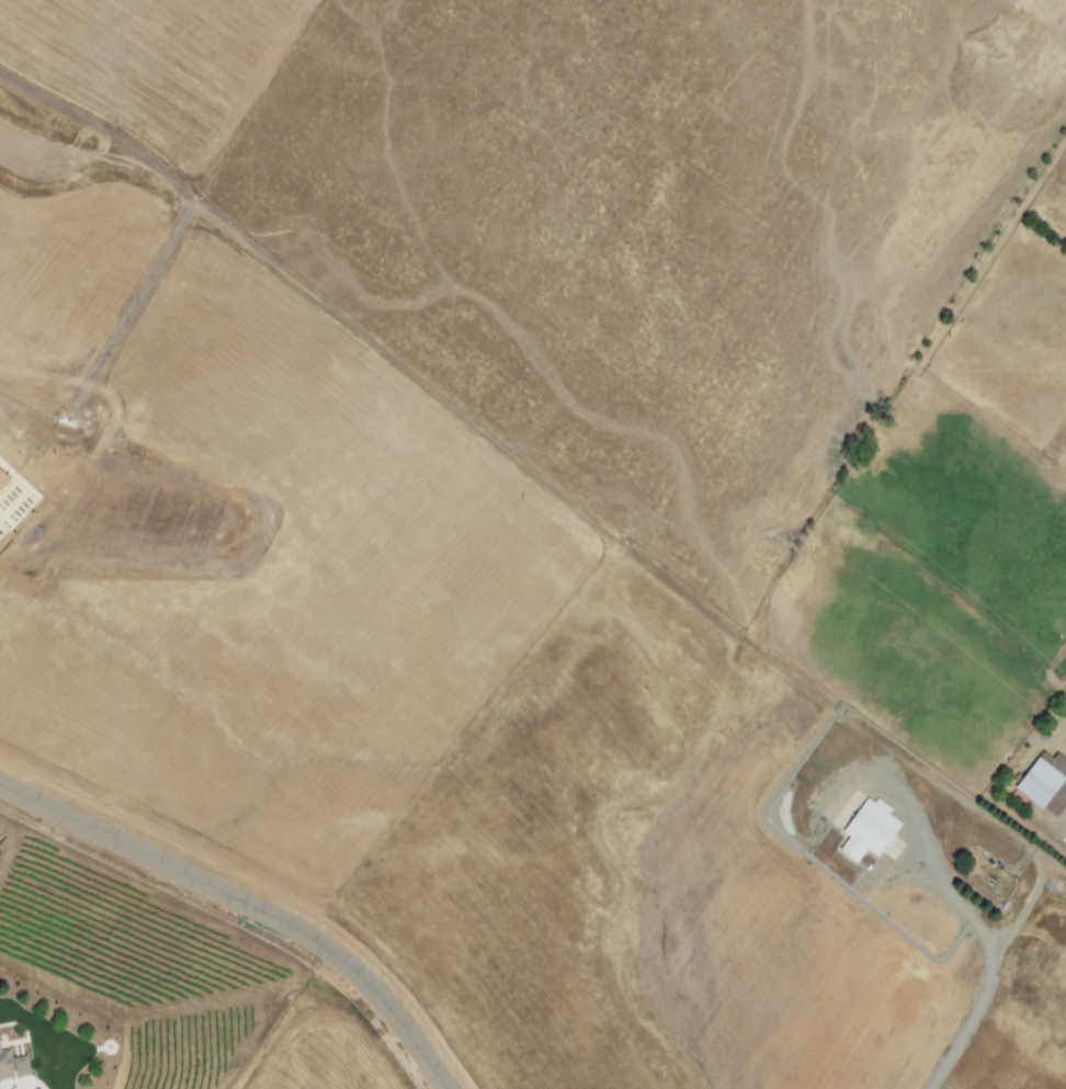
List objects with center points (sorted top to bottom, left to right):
building: (2, 478)
building: (1045, 783)
building: (867, 829)
road: (250, 903)
road: (978, 927)
building: (12, 1065)

